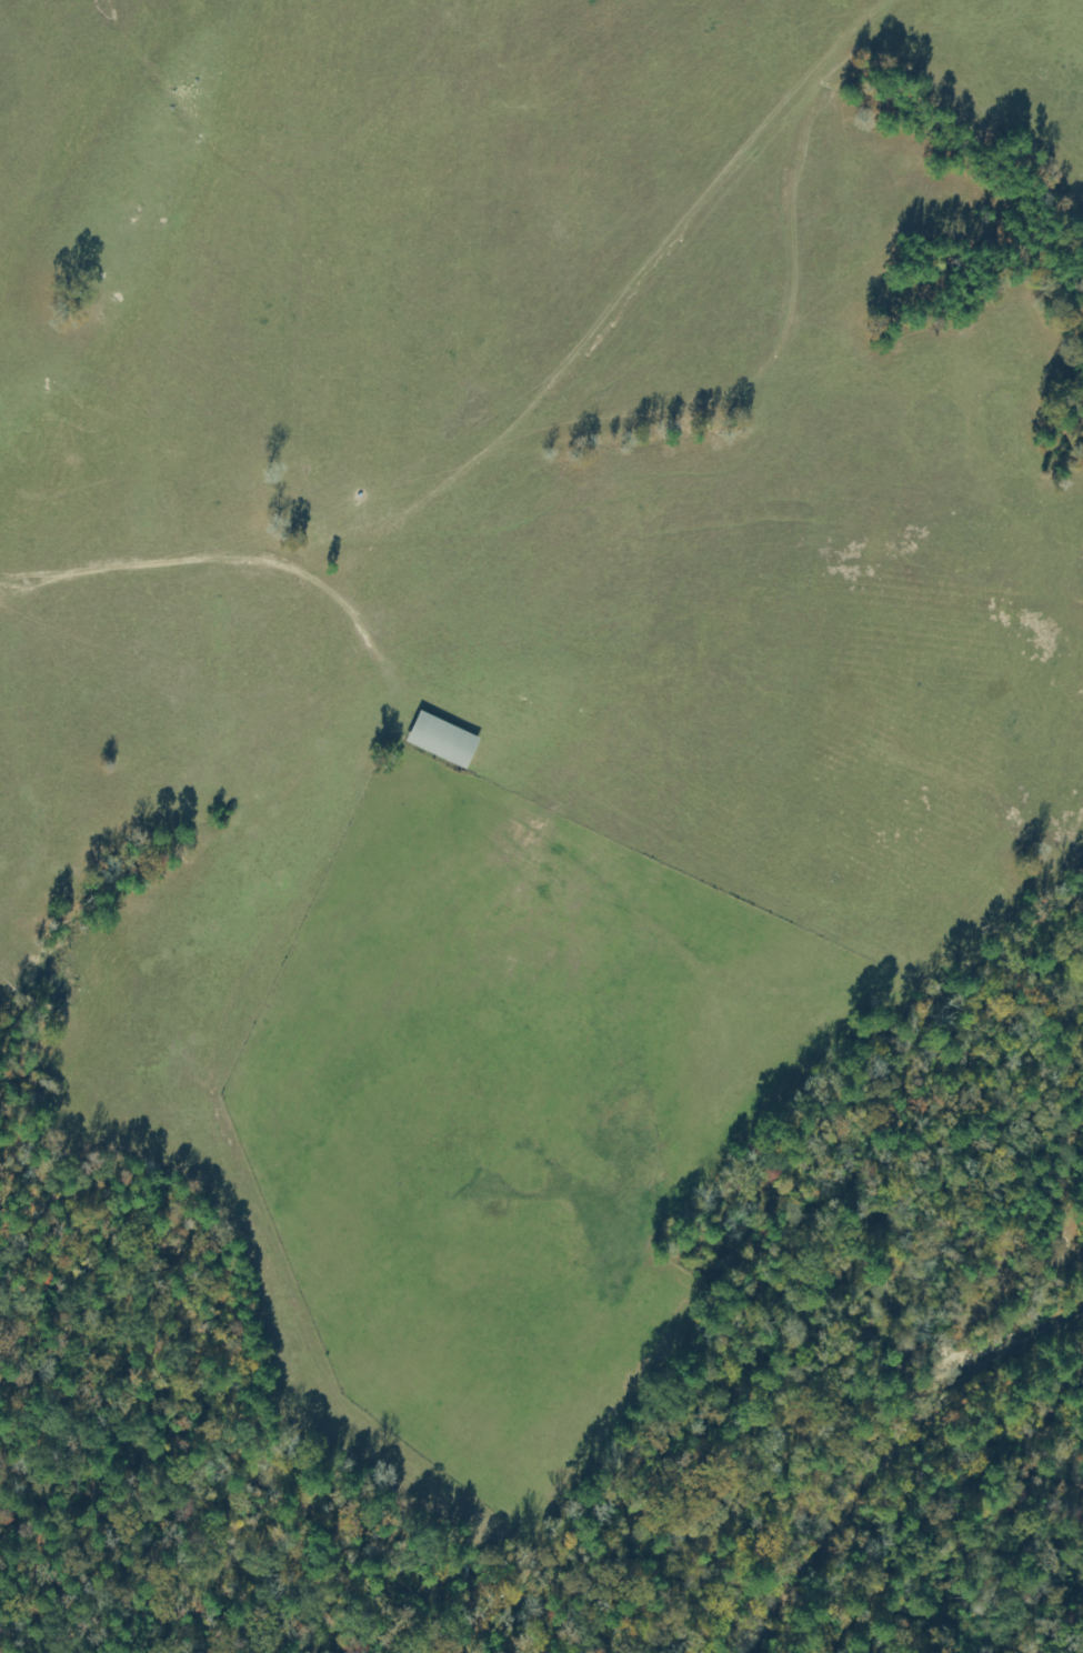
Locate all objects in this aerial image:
building: (441, 742)

